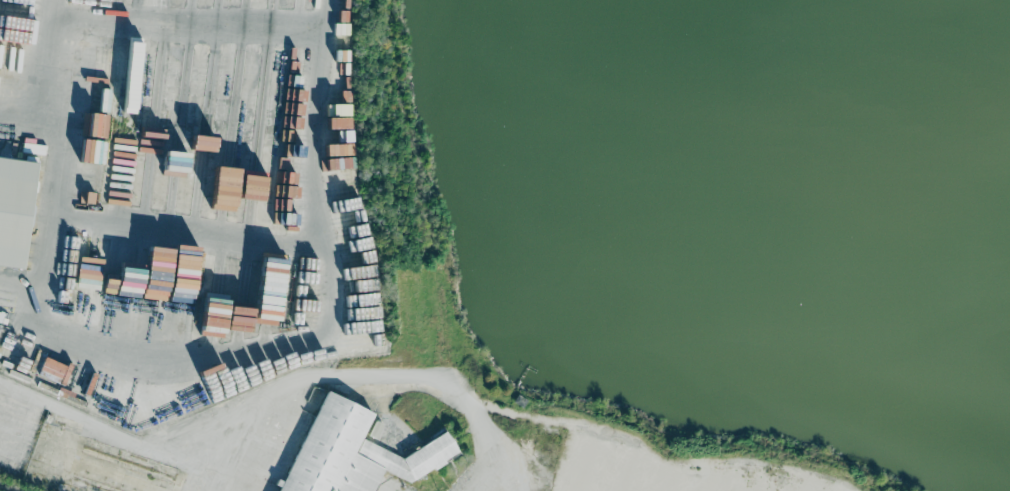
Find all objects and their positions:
road: (187, 21)
road: (29, 119)
road: (56, 157)
building: (15, 209)
road: (188, 236)
road: (18, 307)
road: (329, 316)
road: (373, 375)
road: (111, 428)
building: (352, 452)
road: (659, 457)
road: (223, 484)

